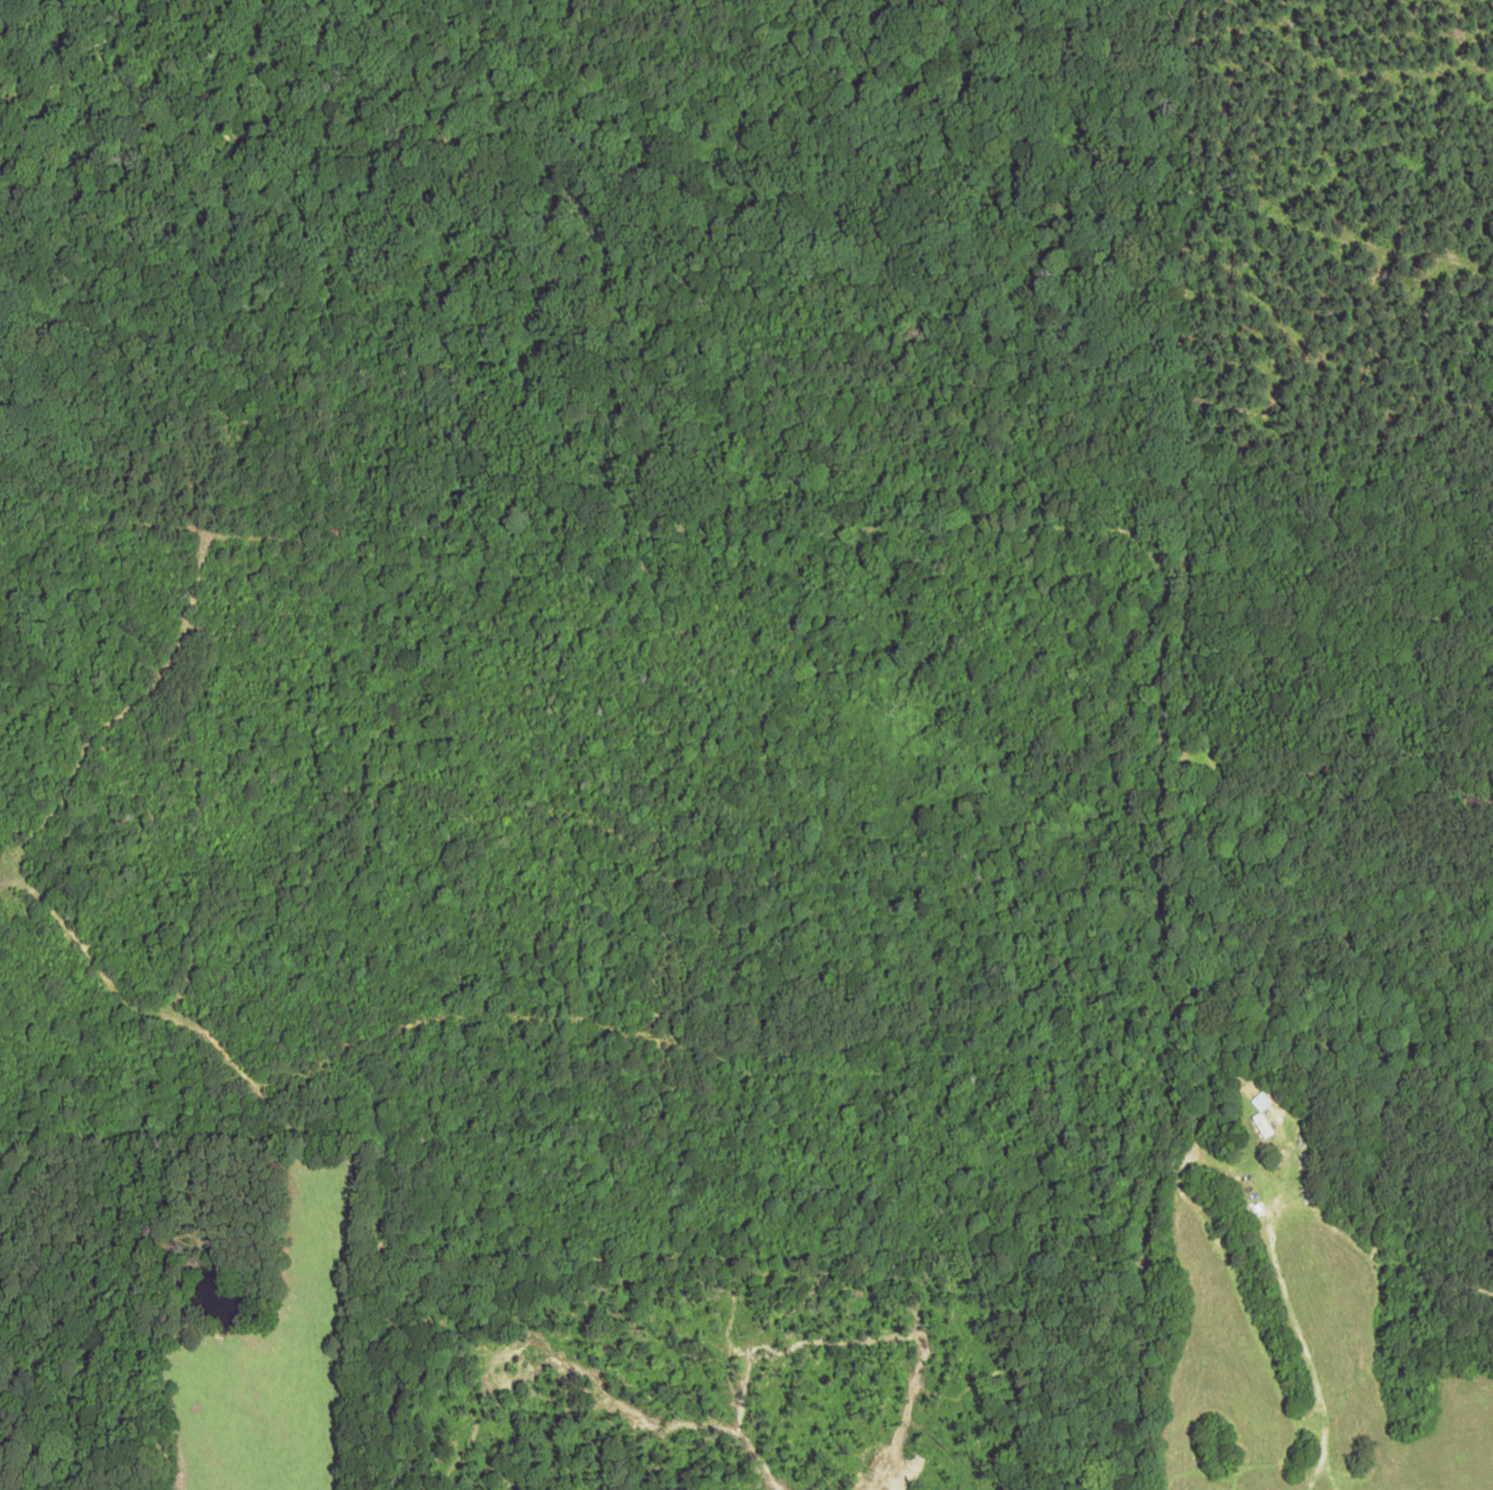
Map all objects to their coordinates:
building: (1262, 1101)
building: (1263, 1124)

